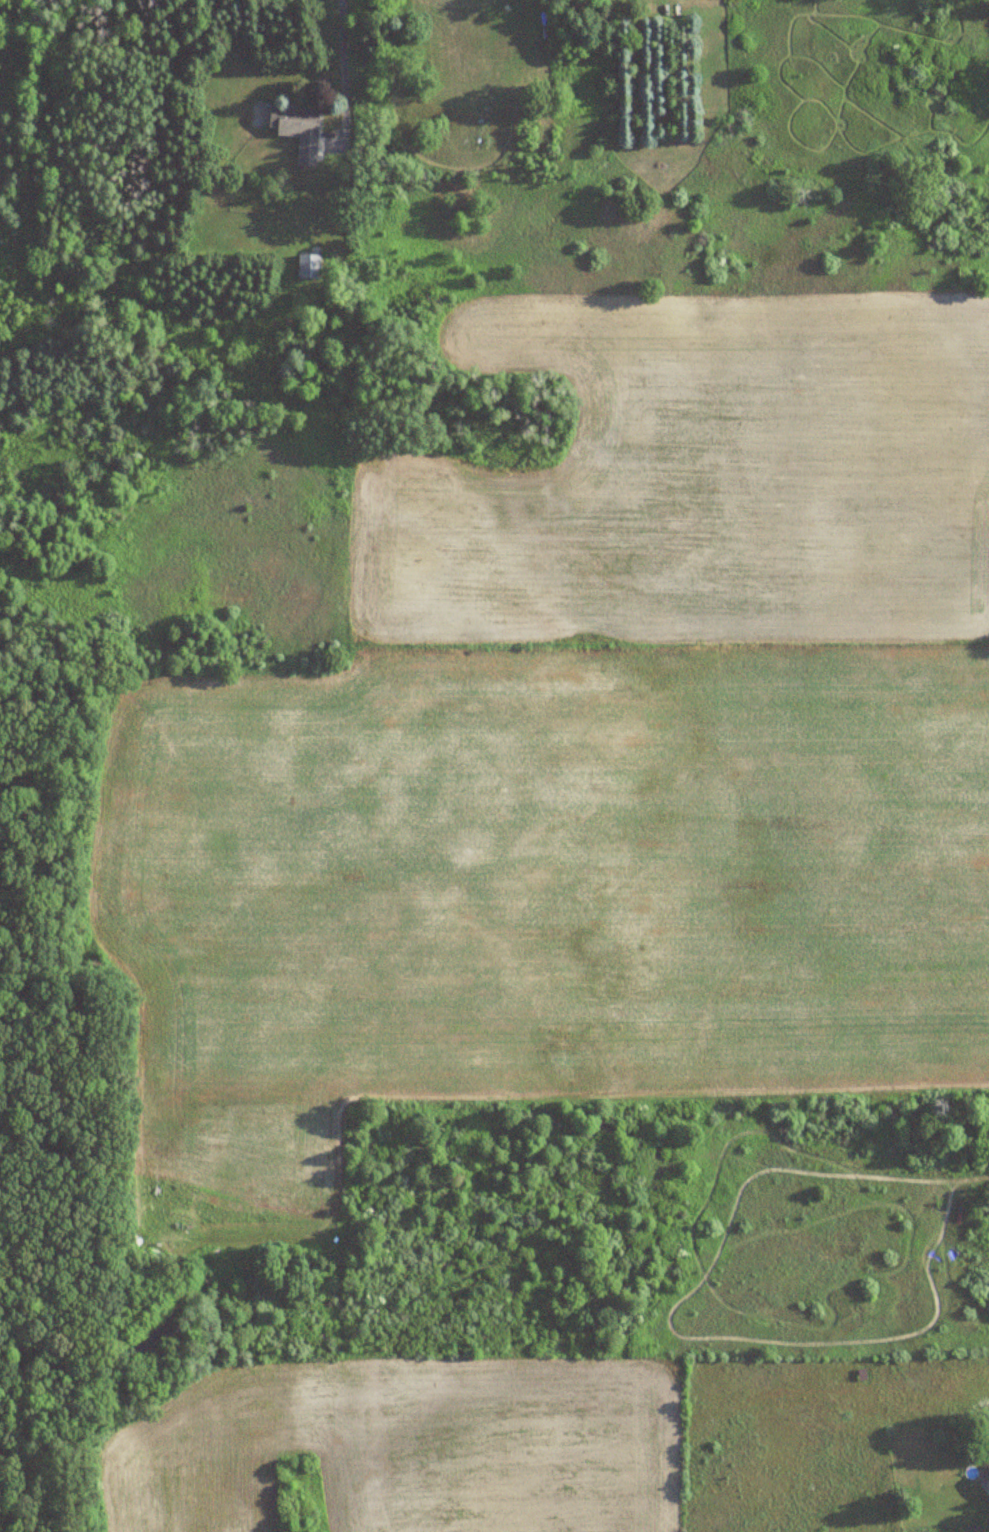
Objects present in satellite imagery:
road: (341, 46)
building: (294, 117)
building: (307, 146)
building: (309, 265)
building: (988, 1471)

